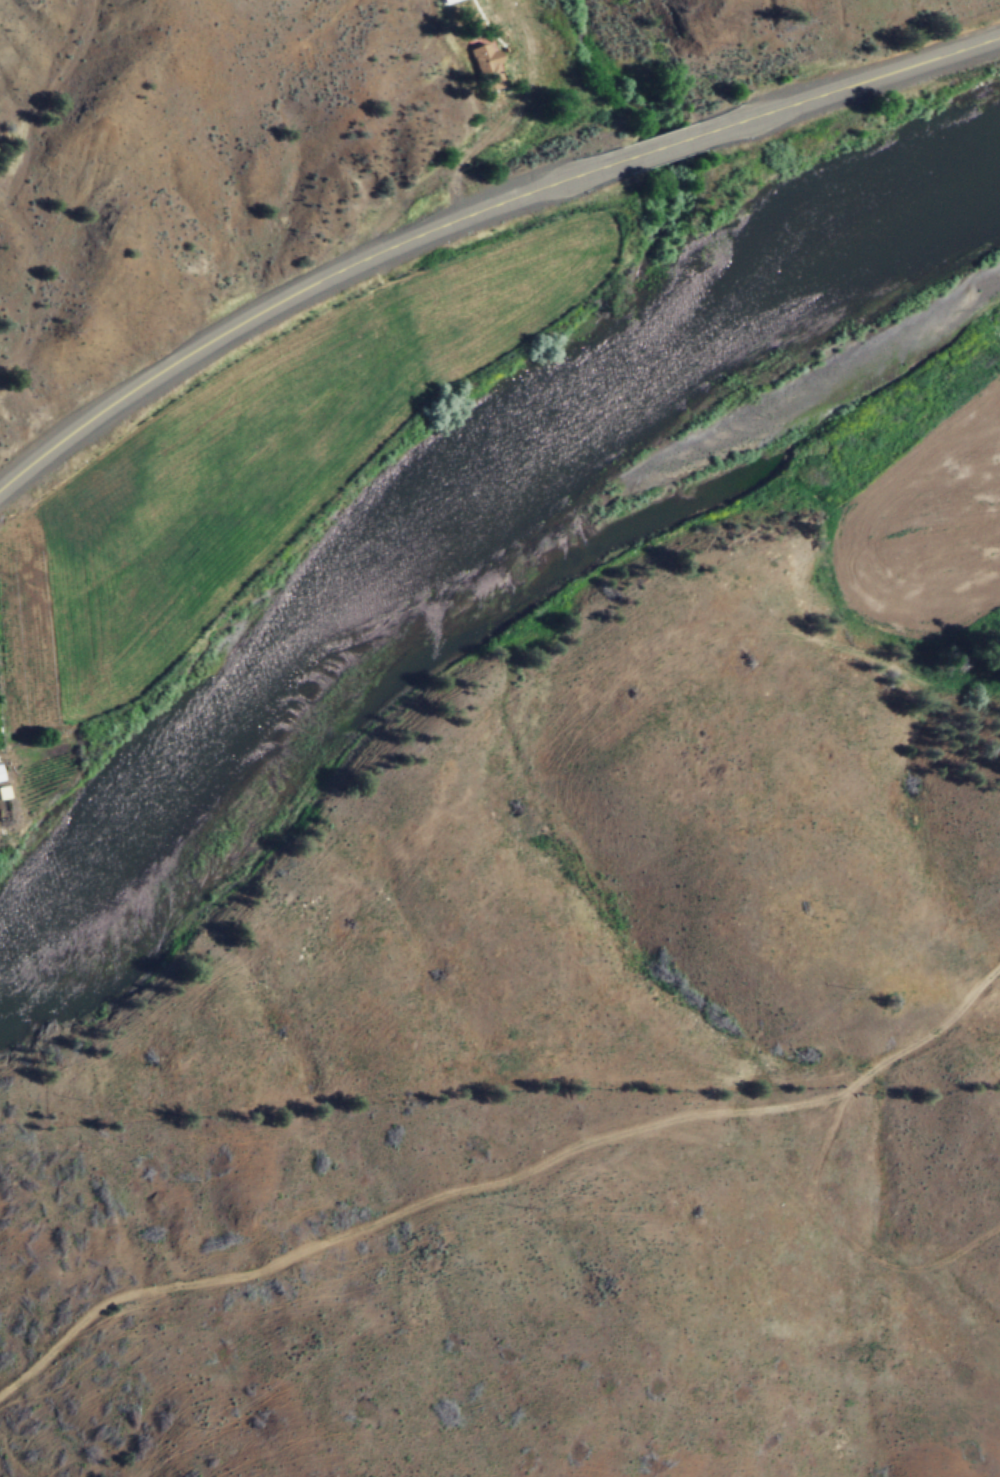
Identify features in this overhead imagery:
road: (474, 221)
river: (486, 550)
building: (2, 793)

